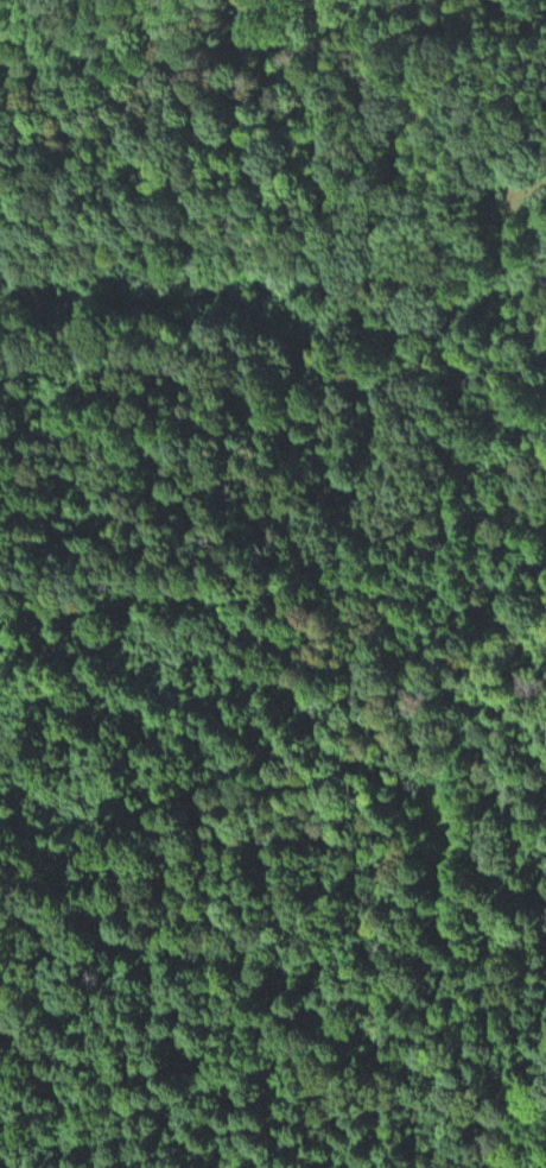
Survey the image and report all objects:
road: (268, 692)

